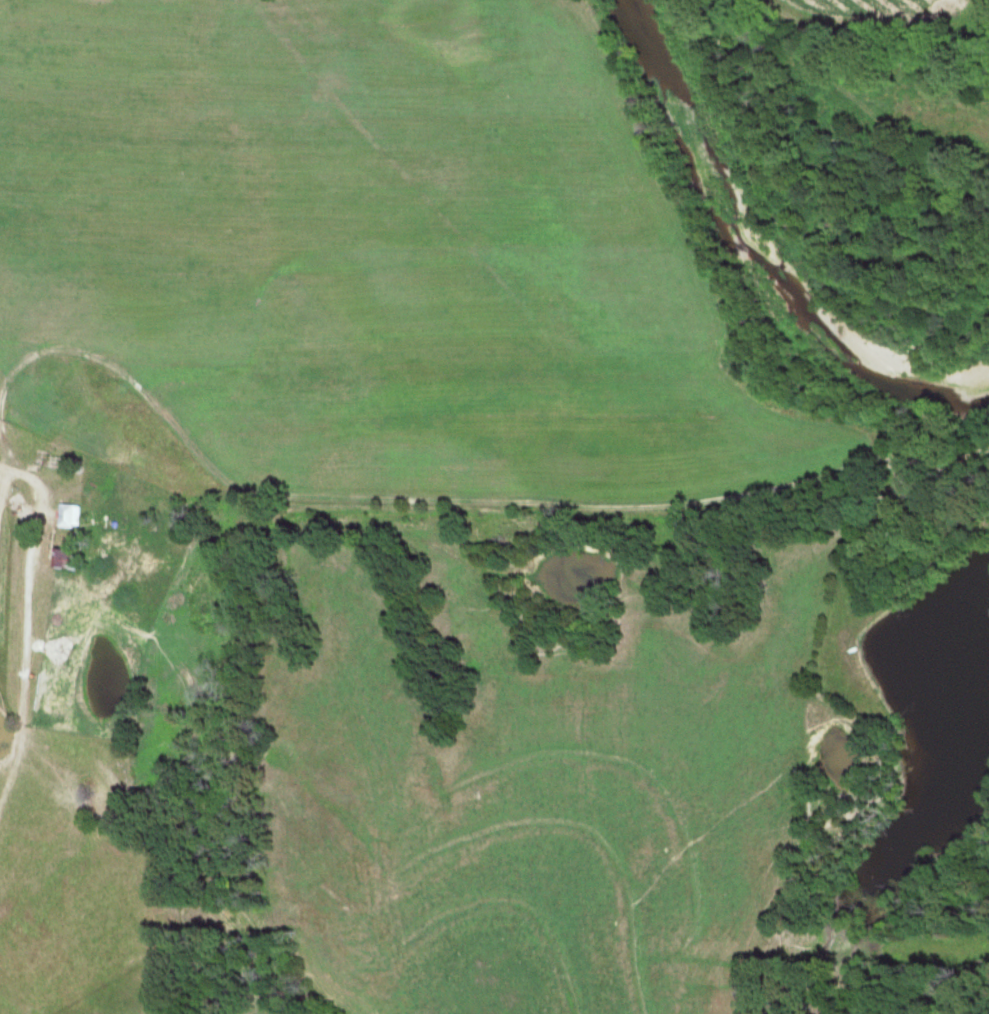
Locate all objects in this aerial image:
road: (40, 478)
building: (71, 516)
building: (65, 558)

